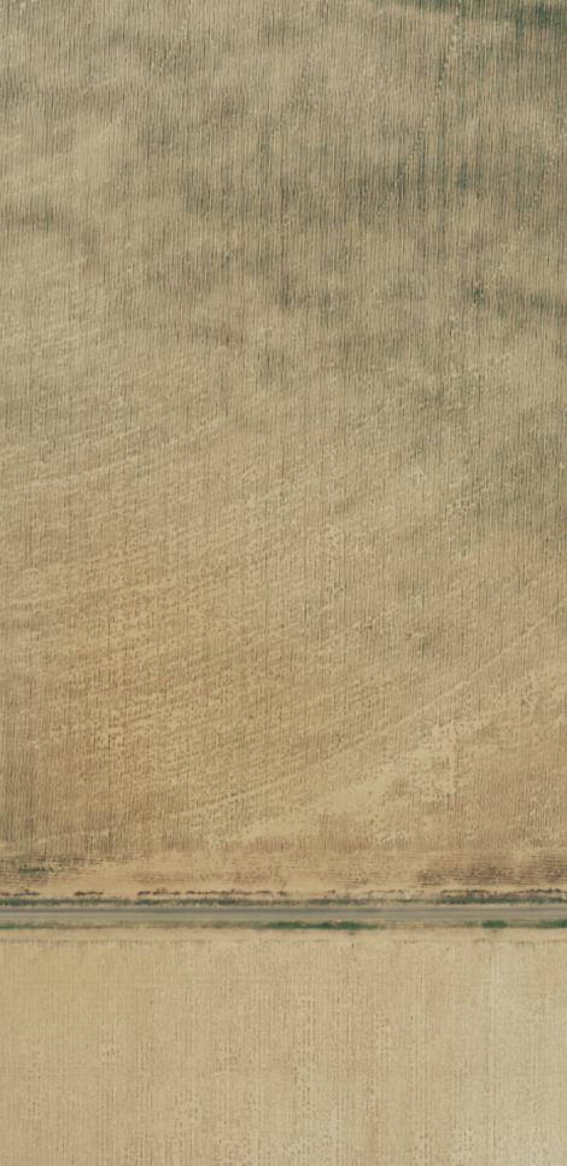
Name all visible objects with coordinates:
road: (283, 915)

